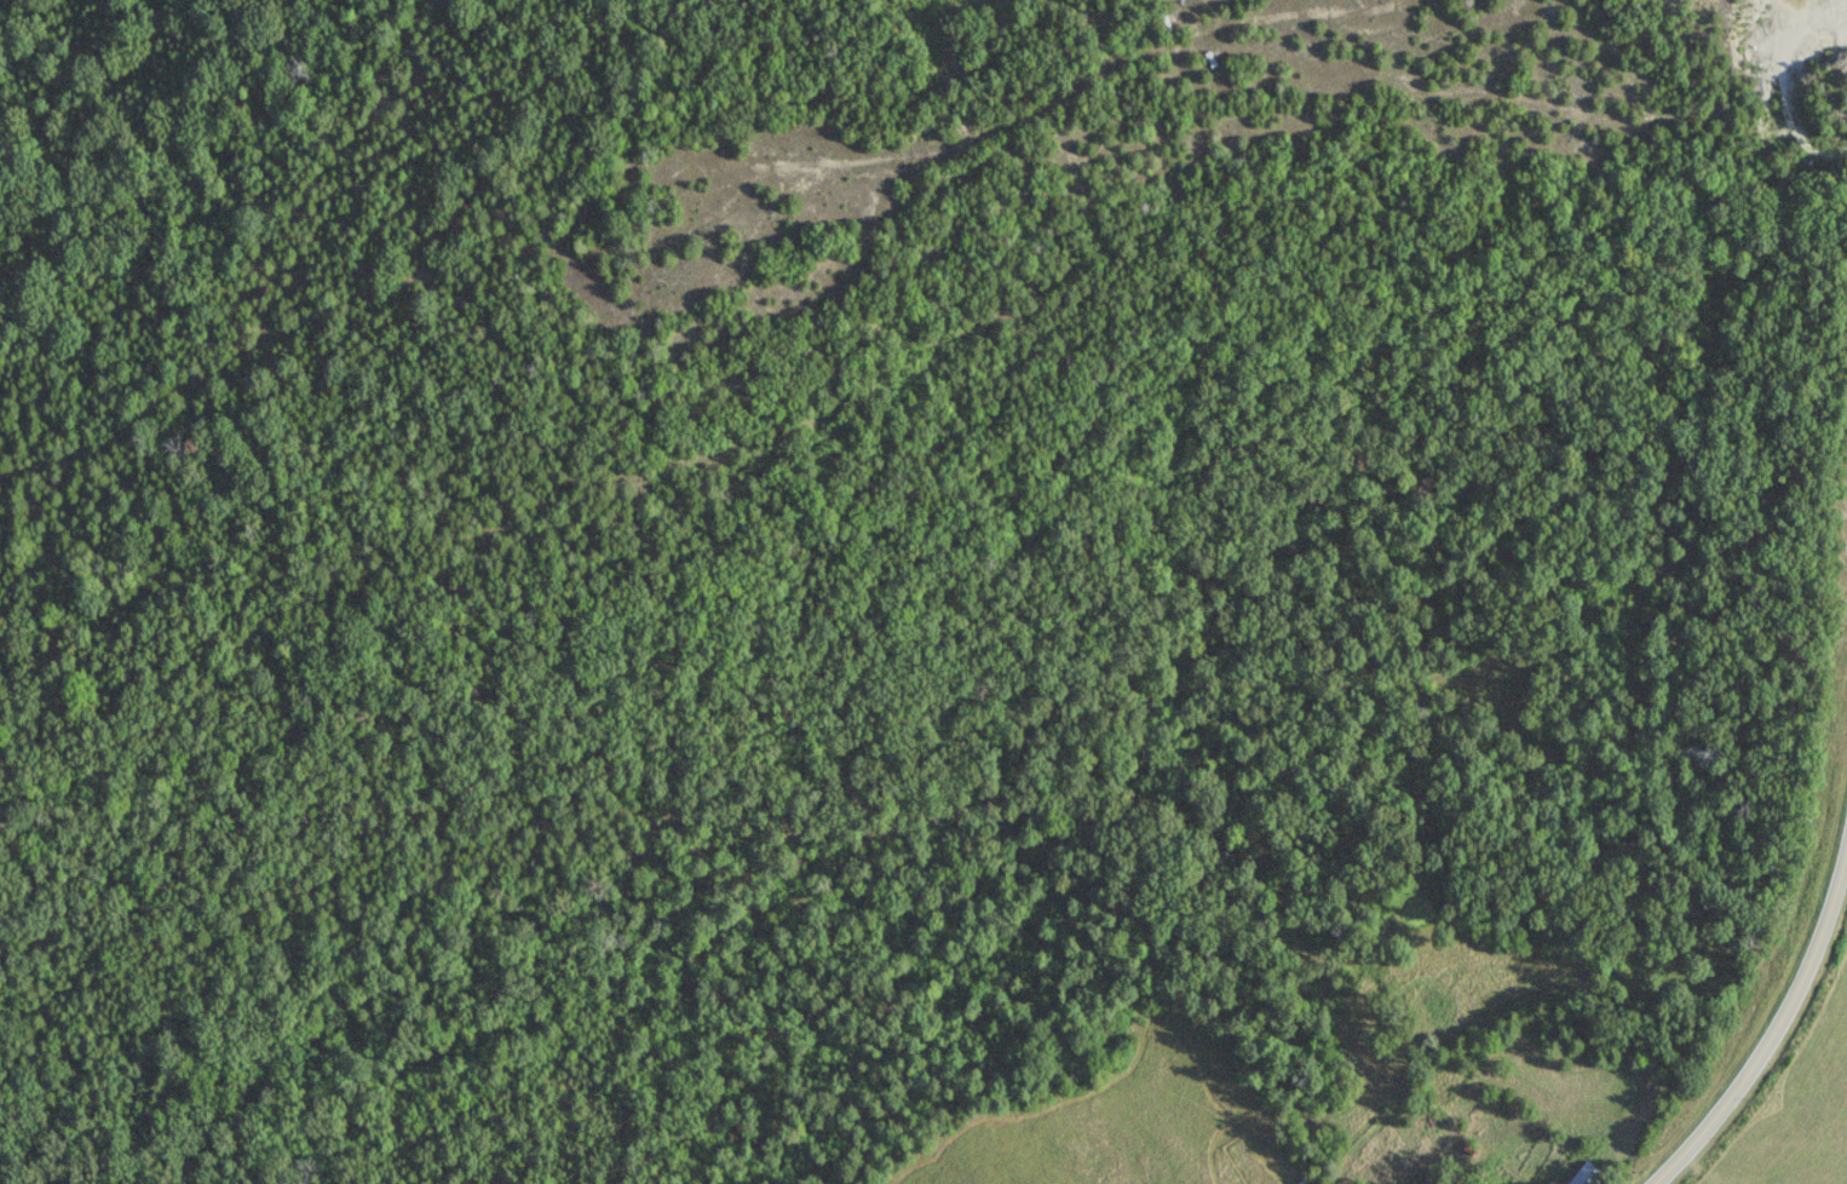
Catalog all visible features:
road: (1786, 896)

